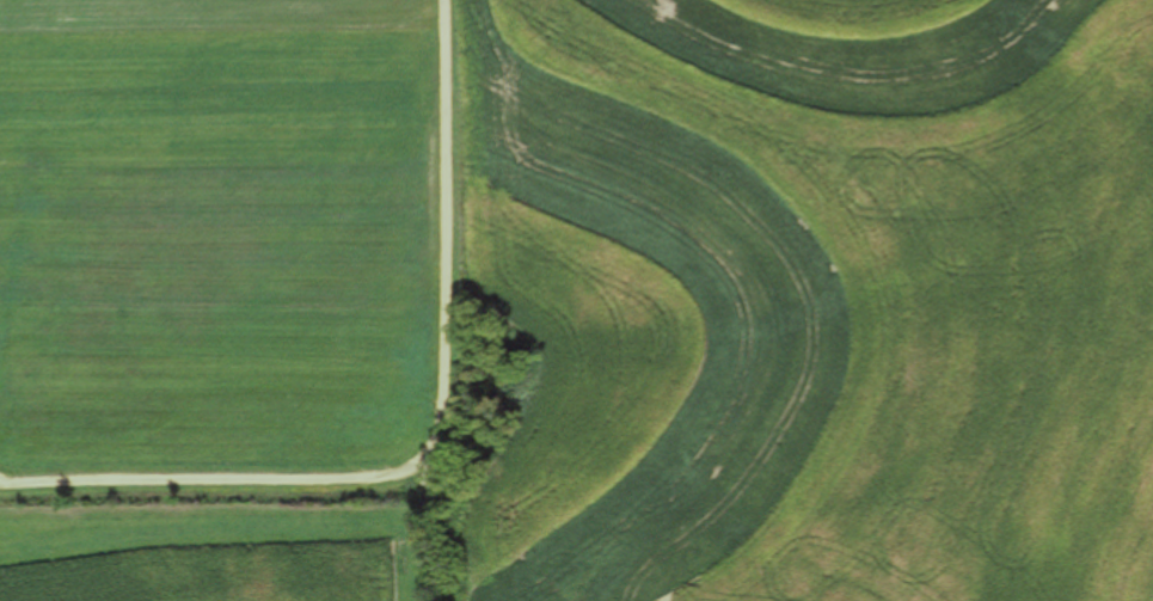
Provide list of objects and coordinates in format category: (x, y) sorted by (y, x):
road: (429, 444)

